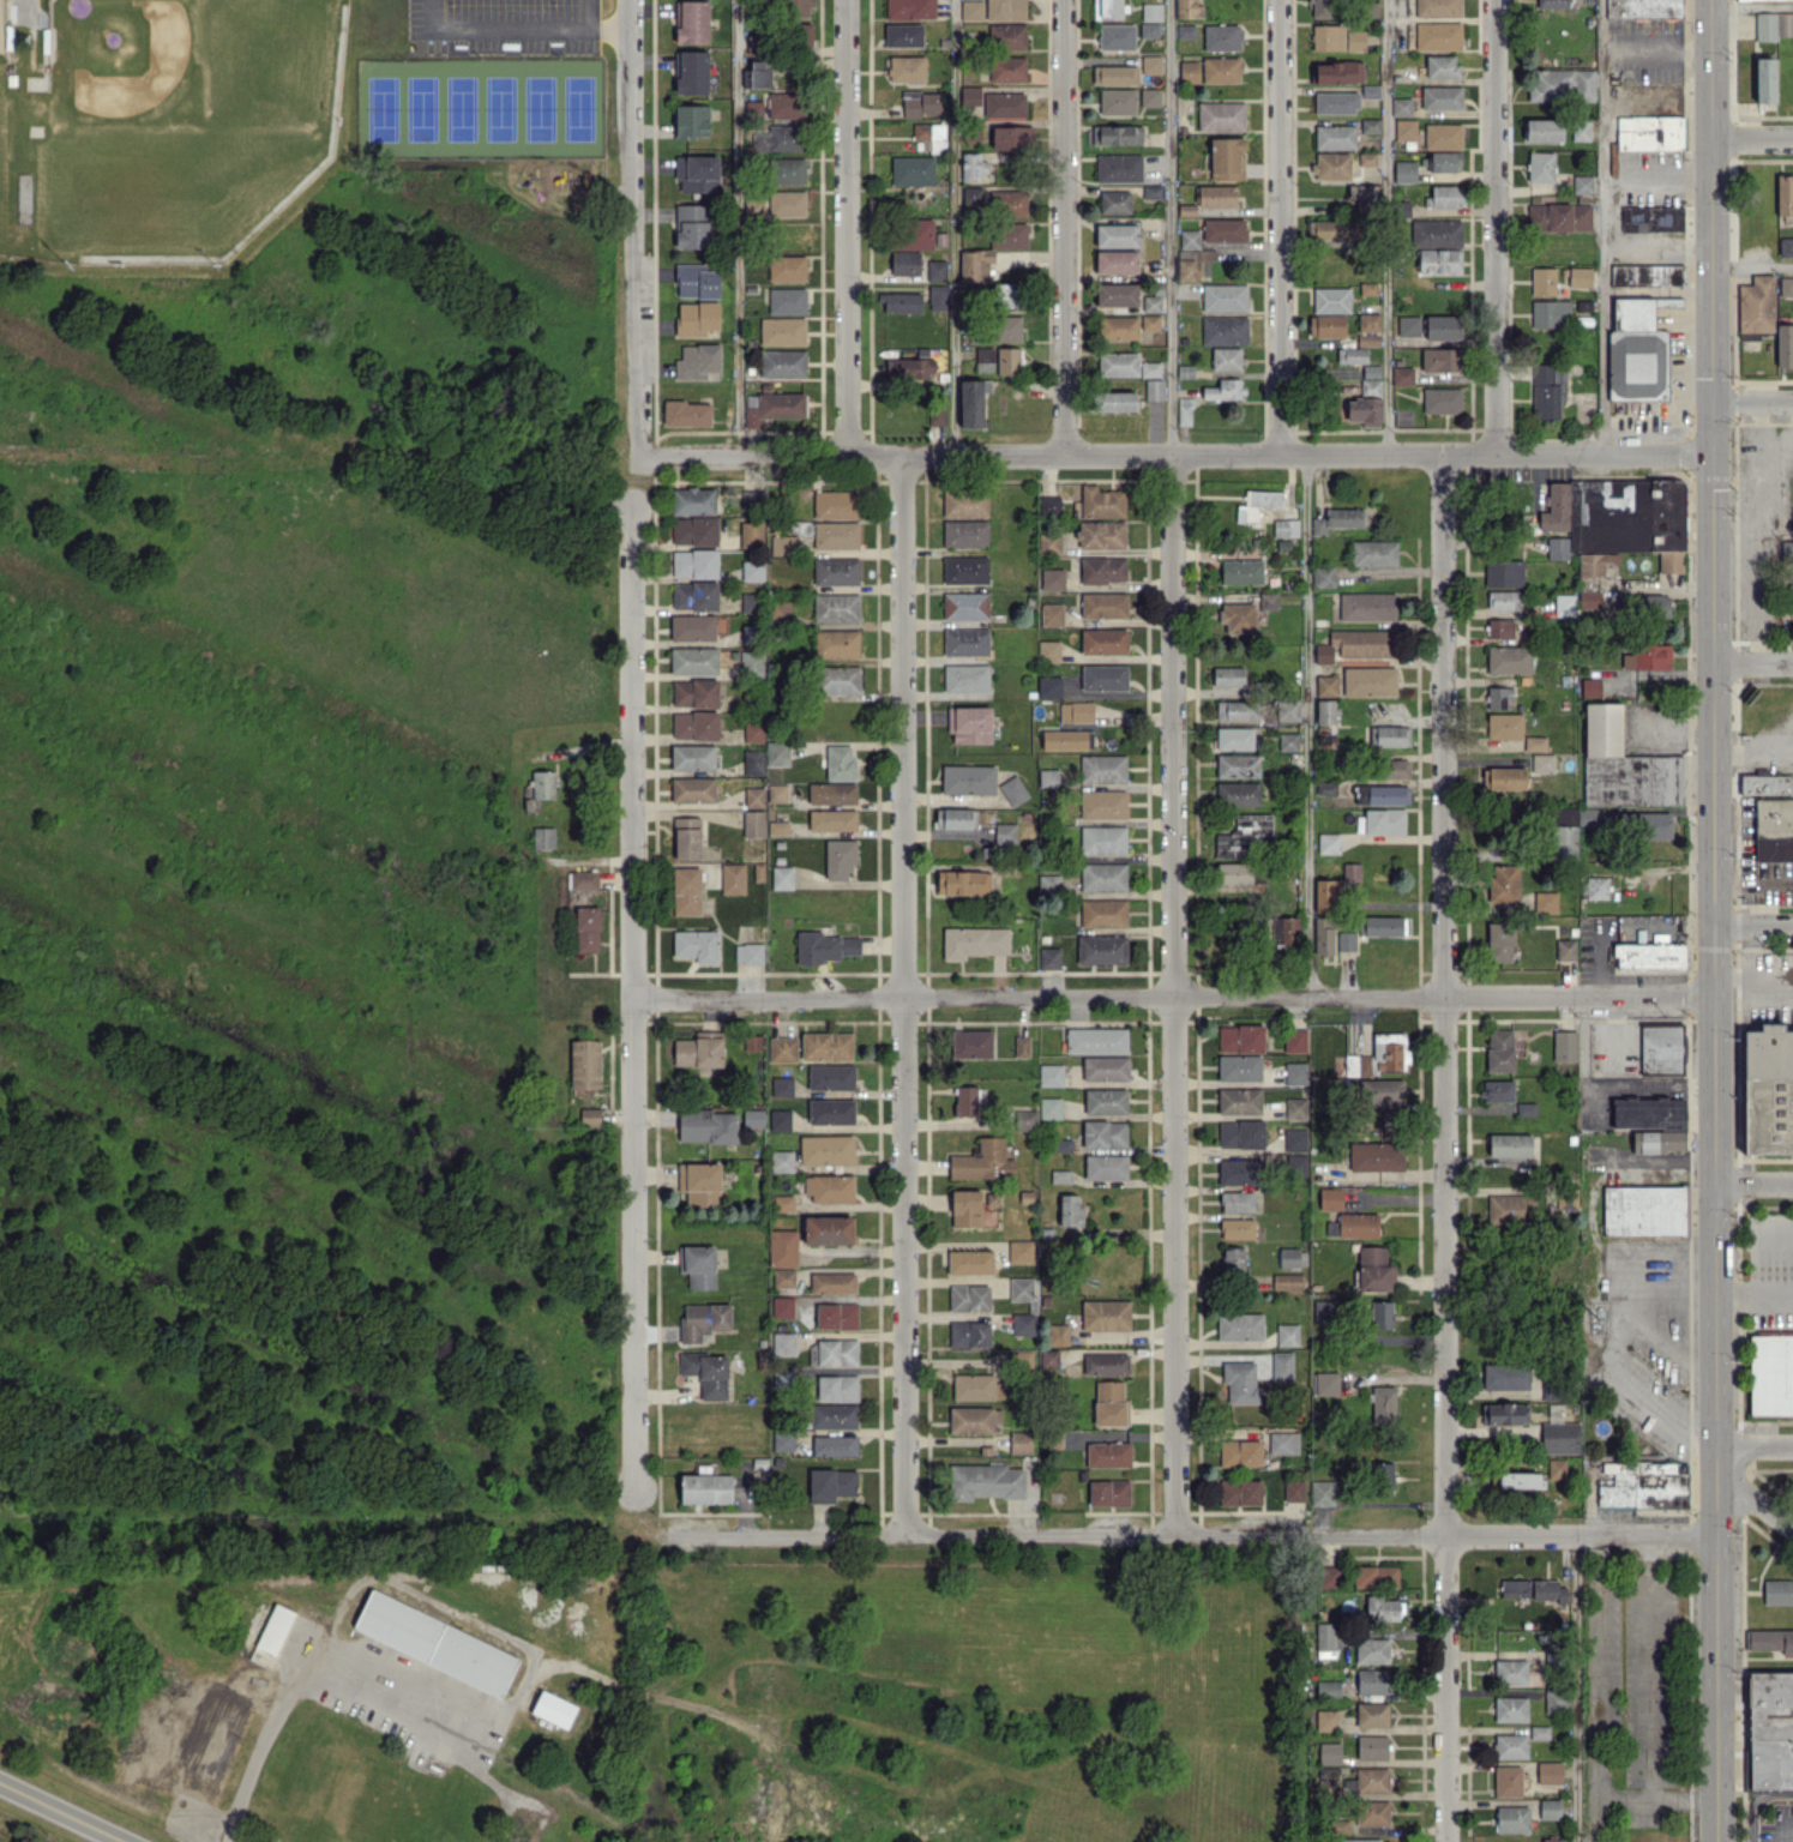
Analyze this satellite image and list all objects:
building: (1747, 0)
building: (1552, 4)
road: (1752, 5)
building: (799, 8)
building: (909, 8)
building: (1108, 8)
building: (1187, 8)
building: (1319, 8)
building: (1437, 8)
building: (1643, 8)
building: (971, 10)
building: (1005, 10)
building: (1150, 11)
road: (586, 13)
building: (691, 20)
building: (1773, 25)
parking lot: (501, 26)
road: (495, 28)
road: (608, 28)
building: (1149, 30)
building: (1185, 30)
building: (802, 34)
building: (903, 35)
building: (1438, 35)
building: (1006, 36)
building: (1115, 36)
building: (1328, 36)
building: (1221, 37)
building: (1354, 40)
road: (1657, 48)
building: (1150, 64)
building: (1442, 66)
building: (905, 68)
building: (1007, 68)
building: (1221, 70)
building: (691, 71)
building: (1189, 72)
building: (1336, 72)
building: (1114, 74)
building: (756, 76)
building: (1764, 80)
building: (1560, 84)
building: (1150, 97)
building: (1442, 97)
building: (1117, 101)
building: (920, 102)
building: (1336, 102)
building: (784, 104)
building: (1004, 104)
building: (1401, 107)
park: (481, 108)
building: (752, 108)
building: (1221, 115)
building: (1651, 119)
building: (692, 120)
park: (185, 122)
building: (1370, 125)
building: (1404, 130)
building: (1544, 130)
building: (1580, 130)
park: (4, 134)
building: (1117, 134)
building: (1443, 134)
building: (928, 136)
building: (1011, 137)
building: (1335, 137)
road: (1752, 139)
building: (1227, 158)
building: (1444, 161)
building: (971, 164)
building: (1331, 165)
building: (1540, 165)
building: (1118, 167)
building: (786, 170)
building: (911, 170)
building: (1404, 170)
building: (697, 173)
road: (1659, 182)
building: (1582, 183)
building: (1365, 194)
building: (1785, 194)
building: (1216, 195)
building: (1444, 197)
building: (1114, 201)
building: (1011, 203)
building: (782, 204)
building: (1401, 207)
building: (1559, 217)
building: (1651, 218)
building: (691, 225)
road: (633, 227)
road: (738, 227)
road: (847, 227)
road: (953, 227)
road: (1059, 227)
road: (1171, 227)
road: (1277, 227)
road: (1385, 227)
road: (1494, 227)
road: (1602, 227)
building: (1223, 229)
building: (1334, 230)
building: (1436, 233)
building: (913, 234)
building: (1007, 235)
building: (1117, 235)
building: (1189, 239)
road: (1657, 245)
building: (1786, 247)
building: (1439, 260)
building: (1115, 261)
building: (904, 263)
building: (1187, 265)
building: (975, 266)
building: (787, 267)
road: (1752, 267)
building: (935, 270)
building: (1647, 275)
building: (1580, 276)
building: (696, 281)
building: (1542, 281)
building: (1786, 287)
building: (1117, 294)
building: (1006, 295)
building: (937, 297)
building: (1223, 297)
building: (787, 300)
building: (1331, 300)
building: (899, 302)
building: (1151, 303)
building: (1755, 307)
building: (1550, 313)
building: (696, 318)
building: (1149, 323)
building: (1368, 323)
building: (1326, 325)
building: (1408, 326)
building: (1442, 326)
building: (1118, 327)
building: (1007, 329)
building: (1223, 330)
building: (782, 331)
building: (1367, 339)
building: (1785, 344)
building: (1636, 353)
building: (1350, 355)
building: (983, 359)
building: (1226, 359)
building: (1442, 359)
building: (1007, 360)
building: (697, 361)
building: (782, 363)
building: (1118, 363)
building: (910, 367)
building: (1149, 369)
building: (1372, 371)
building: (1402, 375)
building: (1370, 386)
building: (1154, 389)
building: (1225, 389)
building: (1547, 390)
building: (1440, 399)
building: (1113, 401)
road: (1752, 401)
building: (971, 402)
traffic signals: (1713, 402)
building: (774, 408)
building: (1184, 410)
building: (1364, 410)
building: (686, 414)
building: (937, 416)
road: (1177, 453)
traffic signals: (1714, 455)
building: (750, 500)
building: (693, 501)
building: (964, 502)
building: (1101, 502)
building: (835, 504)
building: (1048, 504)
building: (1257, 504)
building: (1337, 519)
building: (1615, 522)
building: (1284, 528)
building: (694, 531)
building: (751, 534)
building: (964, 534)
road: (1753, 534)
building: (836, 535)
building: (1101, 535)
building: (1048, 542)
building: (780, 544)
building: (1786, 548)
building: (1373, 553)
building: (694, 562)
building: (752, 570)
building: (964, 570)
building: (1102, 570)
building: (836, 571)
building: (1240, 571)
building: (1503, 573)
building: (1323, 576)
building: (1052, 578)
road: (1660, 589)
building: (694, 596)
building: (1503, 600)
building: (1266, 601)
building: (746, 602)
building: (1789, 603)
building: (1103, 604)
building: (1564, 604)
building: (1651, 604)
building: (965, 606)
building: (1366, 606)
building: (836, 607)
building: (1051, 614)
building: (1237, 616)
building: (692, 627)
building: (1499, 627)
building: (748, 634)
building: (965, 642)
building: (1103, 642)
building: (836, 643)
building: (1360, 643)
building: (1048, 650)
building: (1323, 654)
building: (1645, 656)
building: (1509, 660)
building: (693, 661)
building: (751, 662)
road: (1753, 663)
building: (1228, 676)
building: (965, 678)
building: (1103, 678)
building: (838, 679)
building: (1368, 681)
building: (1048, 686)
building: (1326, 686)
building: (1590, 686)
building: (694, 693)
building: (1497, 697)
building: (1237, 710)
building: (1287, 710)
building: (1325, 711)
building: (1076, 712)
building: (969, 724)
road: (1307, 724)
building: (694, 726)
building: (1504, 726)
building: (753, 732)
building: (1389, 735)
building: (1234, 738)
building: (1066, 740)
building: (1288, 741)
building: (1325, 741)
building: (1534, 744)
road: (1753, 748)
building: (777, 753)
building: (692, 757)
building: (753, 762)
building: (840, 763)
building: (1542, 763)
building: (1237, 765)
building: (1624, 765)
building: (1394, 767)
building: (1102, 769)
building: (1048, 777)
building: (1503, 777)
building: (968, 779)
building: (543, 784)
building: (1765, 784)
building: (1325, 788)
building: (692, 789)
building: (1012, 790)
building: (776, 793)
building: (831, 793)
building: (1237, 794)
building: (1382, 794)
building: (754, 796)
building: (1102, 805)
building: (1588, 817)
building: (955, 818)
building: (831, 820)
building: (1380, 821)
building: (753, 823)
building: (1648, 825)
building: (777, 827)
building: (1774, 829)
building: (1005, 833)
building: (1243, 835)
building: (542, 837)
building: (686, 837)
building: (1102, 839)
building: (1563, 842)
building: (1329, 843)
building: (840, 859)
building: (1233, 873)
building: (1102, 877)
road: (1753, 877)
building: (732, 878)
building: (782, 878)
building: (583, 879)
building: (963, 883)
building: (1048, 884)
building: (1504, 884)
building: (1594, 887)
building: (686, 891)
building: (1326, 895)
building: (1545, 902)
building: (1102, 913)
road: (1714, 920)
building: (1382, 926)
road: (1753, 926)
building: (586, 928)
building: (1286, 929)
building: (1323, 935)
building: (1346, 940)
building: (973, 941)
building: (1499, 941)
building: (697, 945)
building: (823, 946)
building: (1101, 949)
building: (1565, 950)
building: (748, 953)
building: (1649, 955)
building: (1049, 958)
road: (1598, 959)
road: (1753, 973)
road: (902, 993)
road: (1172, 994)
road: (1173, 995)
road: (632, 997)
building: (1240, 1039)
building: (1096, 1040)
building: (1294, 1040)
building: (752, 1042)
building: (970, 1043)
building: (826, 1046)
building: (1021, 1046)
building: (1564, 1046)
building: (782, 1048)
building: (1660, 1048)
building: (699, 1049)
building: (1499, 1051)
building: (1379, 1055)
building: (584, 1064)
building: (1239, 1067)
building: (1105, 1069)
building: (1295, 1073)
building: (1049, 1074)
building: (831, 1077)
road: (1650, 1085)
building: (781, 1086)
building: (1767, 1088)
building: (1498, 1090)
building: (1382, 1091)
building: (965, 1100)
building: (1106, 1101)
building: (1239, 1101)
building: (1049, 1108)
building: (1295, 1108)
building: (1526, 1108)
building: (830, 1110)
building: (589, 1114)
building: (753, 1118)
building: (1024, 1119)
building: (780, 1120)
building: (1390, 1120)
building: (1651, 1122)
building: (708, 1126)
building: (1103, 1133)
building: (1240, 1134)
building: (1295, 1139)
building: (1509, 1145)
road: (1444, 1148)
building: (826, 1150)
building: (1376, 1156)
building: (782, 1161)
building: (982, 1161)
building: (1295, 1164)
building: (1105, 1167)
building: (1238, 1172)
road: (1605, 1174)
building: (1059, 1176)
building: (699, 1184)
road: (1753, 1184)
building: (829, 1188)
building: (1330, 1198)
building: (1237, 1202)
building: (783, 1203)
building: (1510, 1208)
building: (971, 1209)
building: (1070, 1210)
building: (1643, 1210)
building: (1354, 1226)
building: (1237, 1228)
building: (828, 1229)
road: (1771, 1232)
building: (783, 1247)
building: (1021, 1251)
building: (1292, 1257)
building: (1232, 1259)
building: (970, 1262)
building: (697, 1265)
building: (1374, 1269)
building: (783, 1277)
building: (1287, 1281)
building: (832, 1283)
building: (1021, 1289)
road: (1753, 1296)
building: (968, 1298)
road: (1612, 1300)
building: (782, 1307)
building: (1322, 1310)
building: (1105, 1314)
building: (1382, 1314)
building: (836, 1316)
building: (703, 1320)
building: (1023, 1324)
building: (1239, 1326)
building: (969, 1334)
building: (1058, 1334)
building: (1287, 1335)
building: (783, 1343)
building: (832, 1352)
building: (1105, 1364)
building: (1281, 1365)
building: (706, 1373)
building: (1770, 1374)
building: (782, 1377)
building: (1506, 1377)
building: (1240, 1381)
building: (1326, 1383)
building: (836, 1387)
building: (976, 1387)
road: (1635, 1391)
building: (1109, 1403)
building: (1383, 1405)
building: (1504, 1413)
building: (834, 1416)
building: (974, 1419)
building: (1560, 1437)
building: (783, 1440)
building: (1019, 1441)
building: (1283, 1443)
building: (834, 1445)
road: (1755, 1446)
building: (1240, 1452)
building: (1108, 1453)
road: (1618, 1459)
building: (1556, 1468)
building: (1382, 1474)
building: (1520, 1480)
building: (985, 1481)
building: (831, 1483)
building: (1643, 1486)
building: (705, 1488)
building: (1293, 1489)
building: (1108, 1492)
building: (1239, 1492)
building: (1322, 1493)
road: (1755, 1503)
road: (1183, 1535)
building: (1376, 1576)
building: (1328, 1577)
building: (1514, 1588)
building: (1548, 1590)
building: (1777, 1591)
building: (1384, 1608)
building: (273, 1629)
building: (1325, 1639)
building: (1770, 1639)
building: (435, 1643)
building: (1371, 1650)
building: (1510, 1672)
road: (313, 1673)
building: (1371, 1681)
building: (1328, 1687)
road: (1575, 1687)
building: (1556, 1699)
road: (1596, 1705)
building: (553, 1709)
building: (1510, 1709)
road: (1649, 1710)
building: (1371, 1714)
building: (1325, 1720)
building: (1770, 1729)
building: (1539, 1730)
building: (1510, 1745)
building: (1372, 1746)
building: (1329, 1753)
building: (1548, 1772)
building: (1508, 1781)
road: (1683, 1799)
road: (1752, 1799)
building: (1550, 1808)
road: (66, 1811)
building: (1371, 1812)
building: (1512, 1818)
road: (1782, 1828)
park: (25, 1829)
building: (1362, 1840)
building: (1552, 1840)

